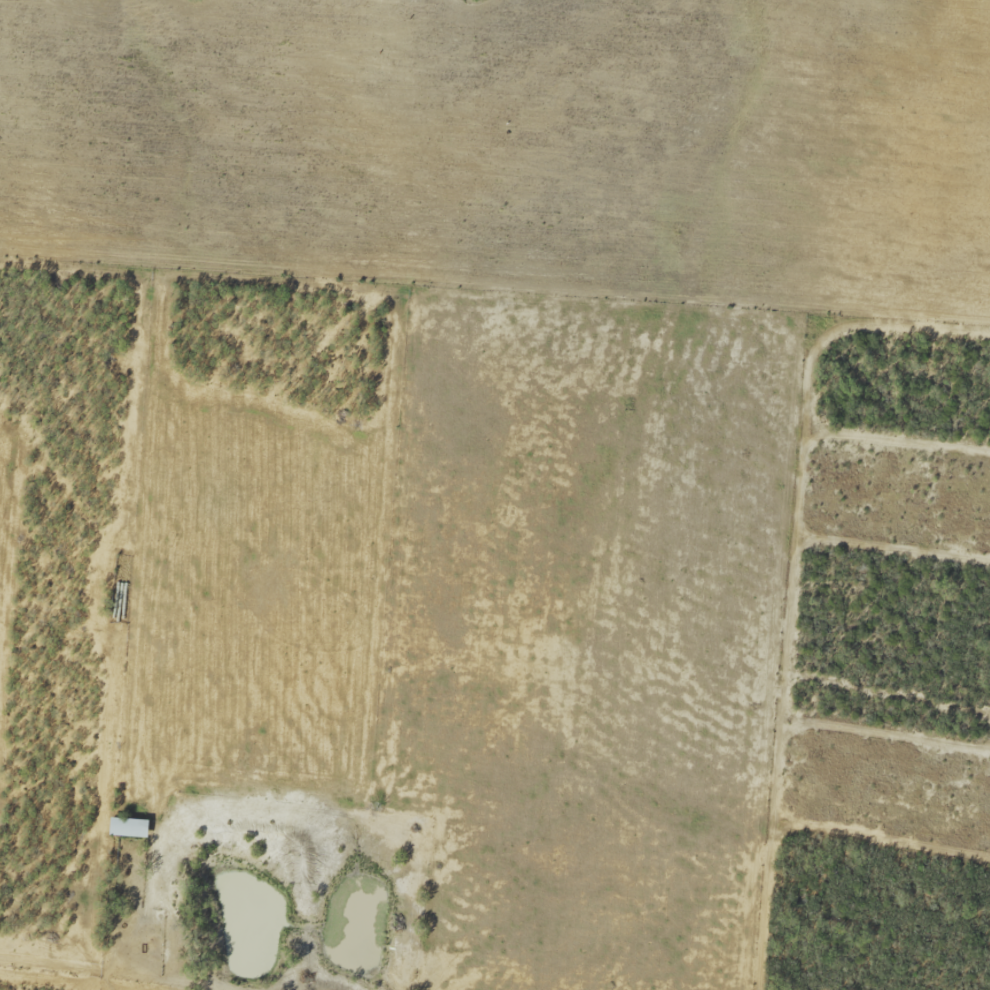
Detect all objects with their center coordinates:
building: (127, 828)

